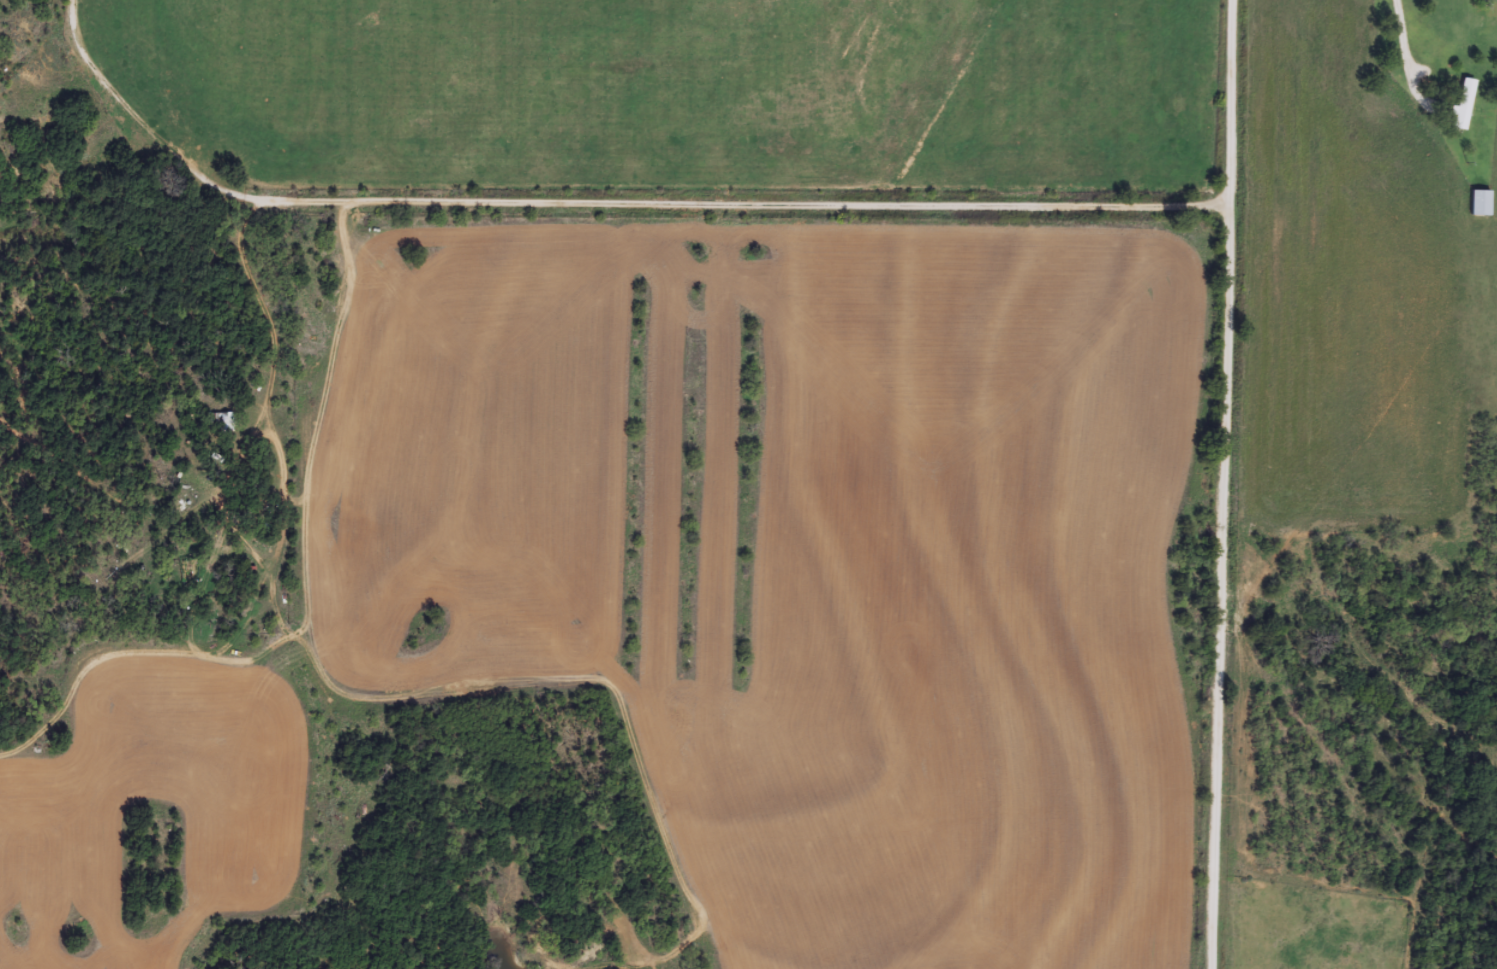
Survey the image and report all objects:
building: (1466, 104)
road: (1217, 155)
building: (1482, 203)
road: (859, 319)
building: (220, 421)

